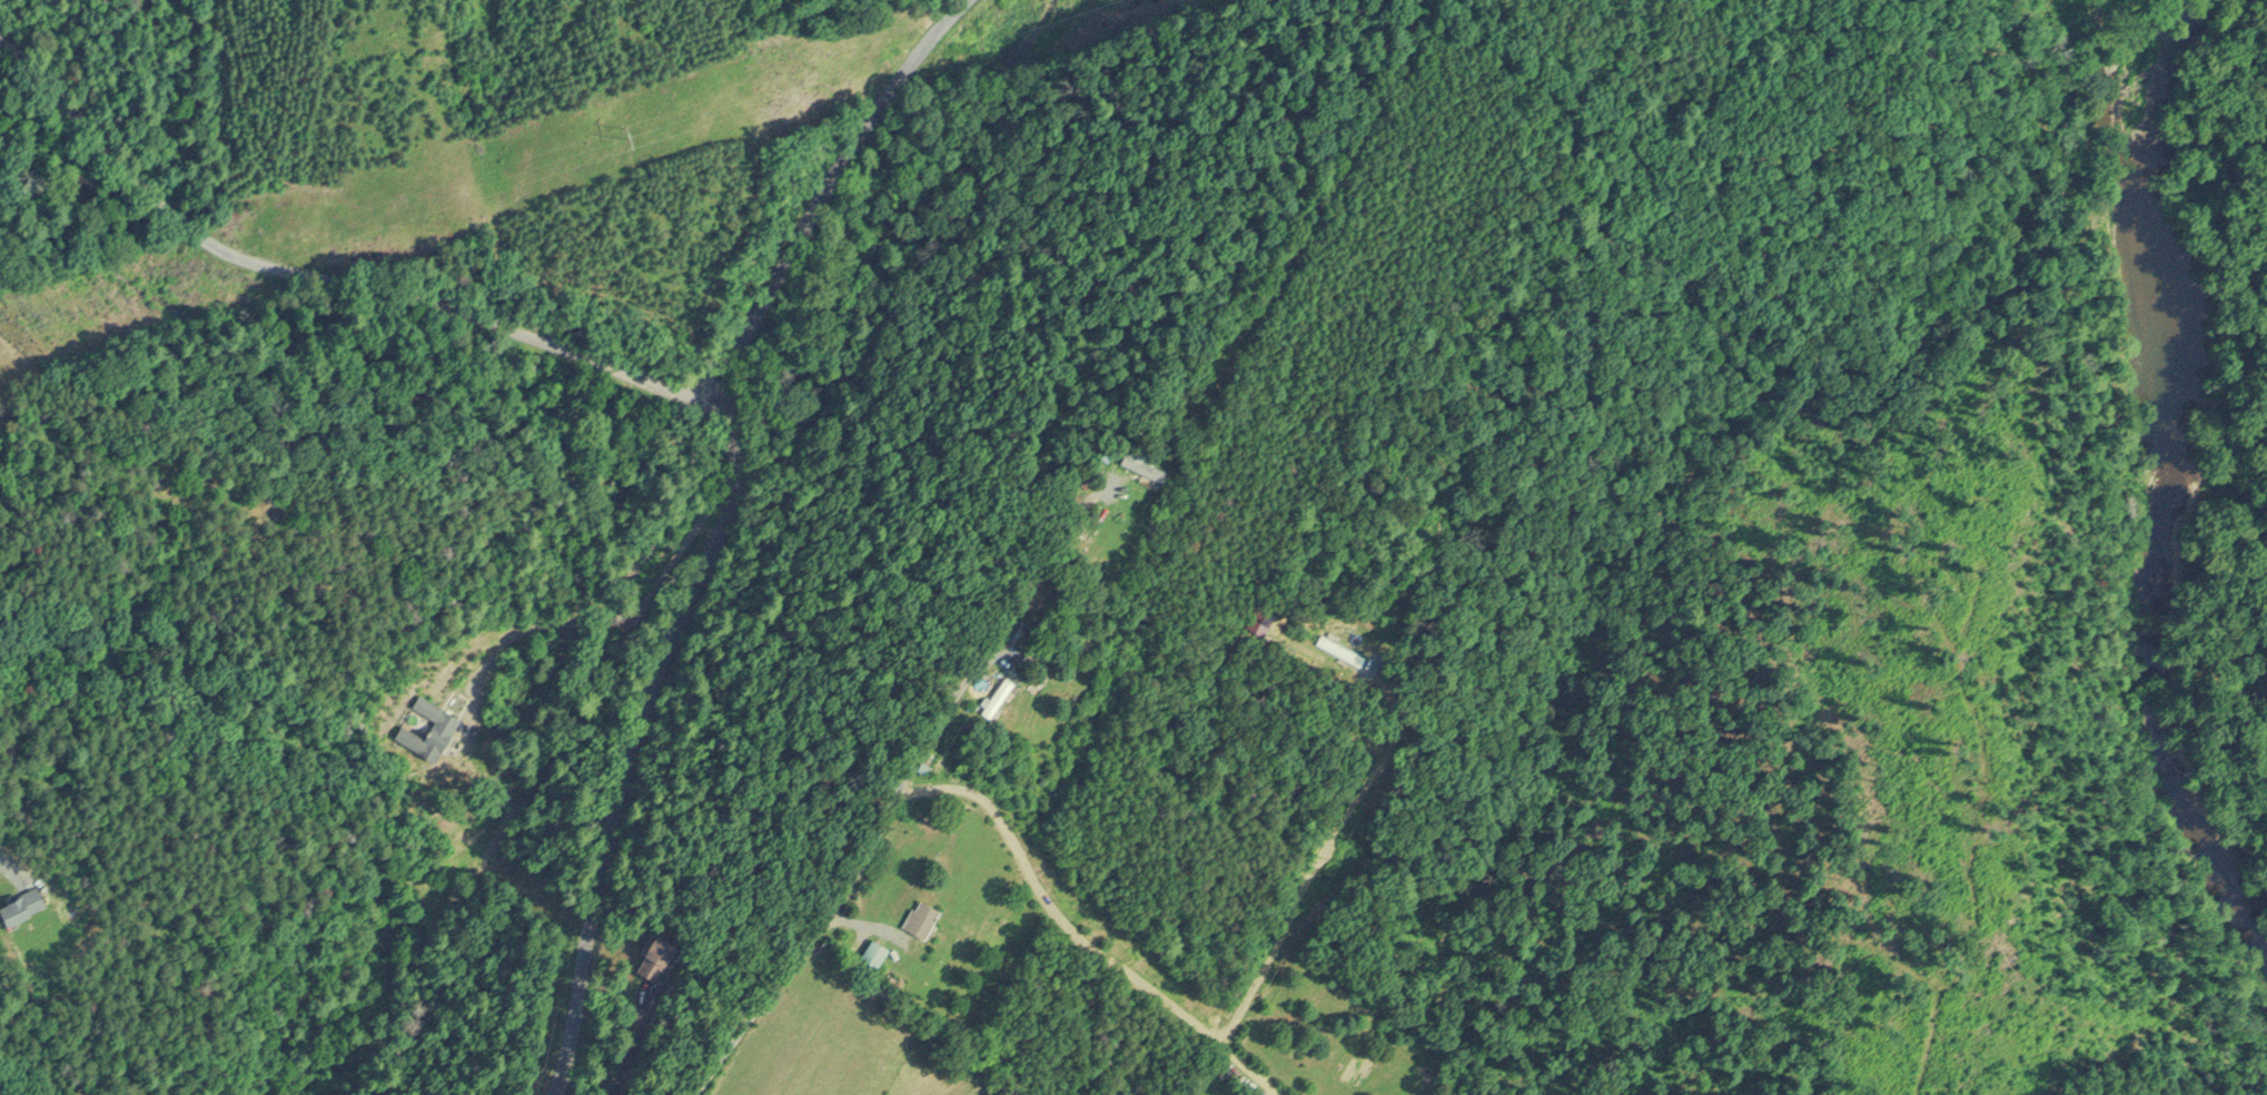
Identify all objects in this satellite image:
power tower: (630, 118)
road: (830, 190)
road: (328, 287)
building: (1141, 465)
river: (2155, 476)
road: (633, 622)
road: (992, 642)
building: (994, 697)
building: (424, 728)
road: (638, 741)
road: (1315, 865)
building: (19, 904)
building: (917, 917)
road: (1077, 938)
road: (802, 951)
building: (870, 951)
road: (632, 1042)

